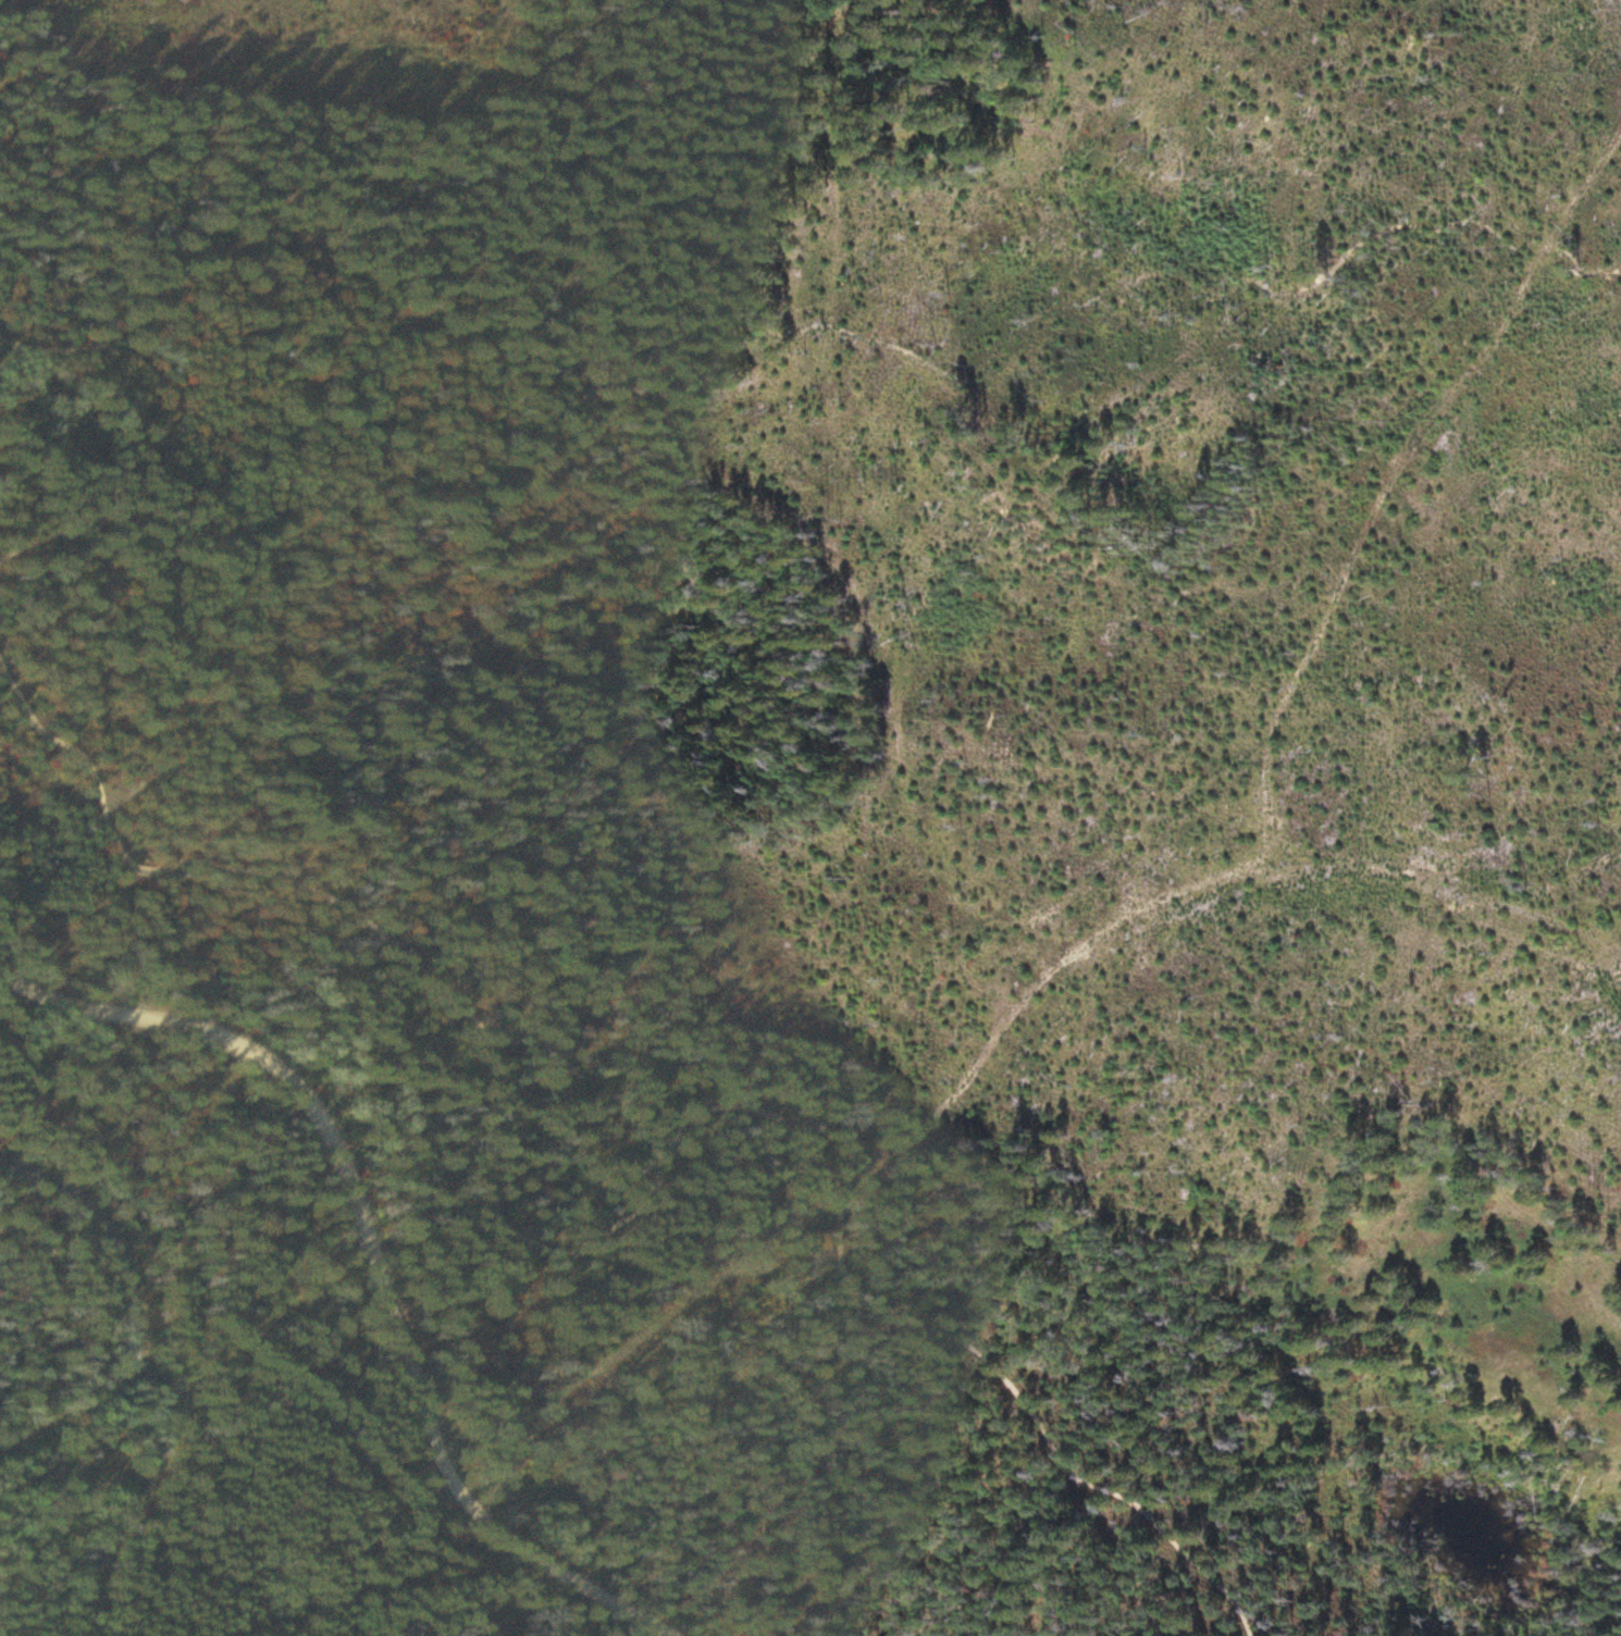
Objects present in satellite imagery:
road: (177, 427)
road: (117, 1237)
road: (602, 1243)
road: (380, 1262)
road: (188, 1425)

